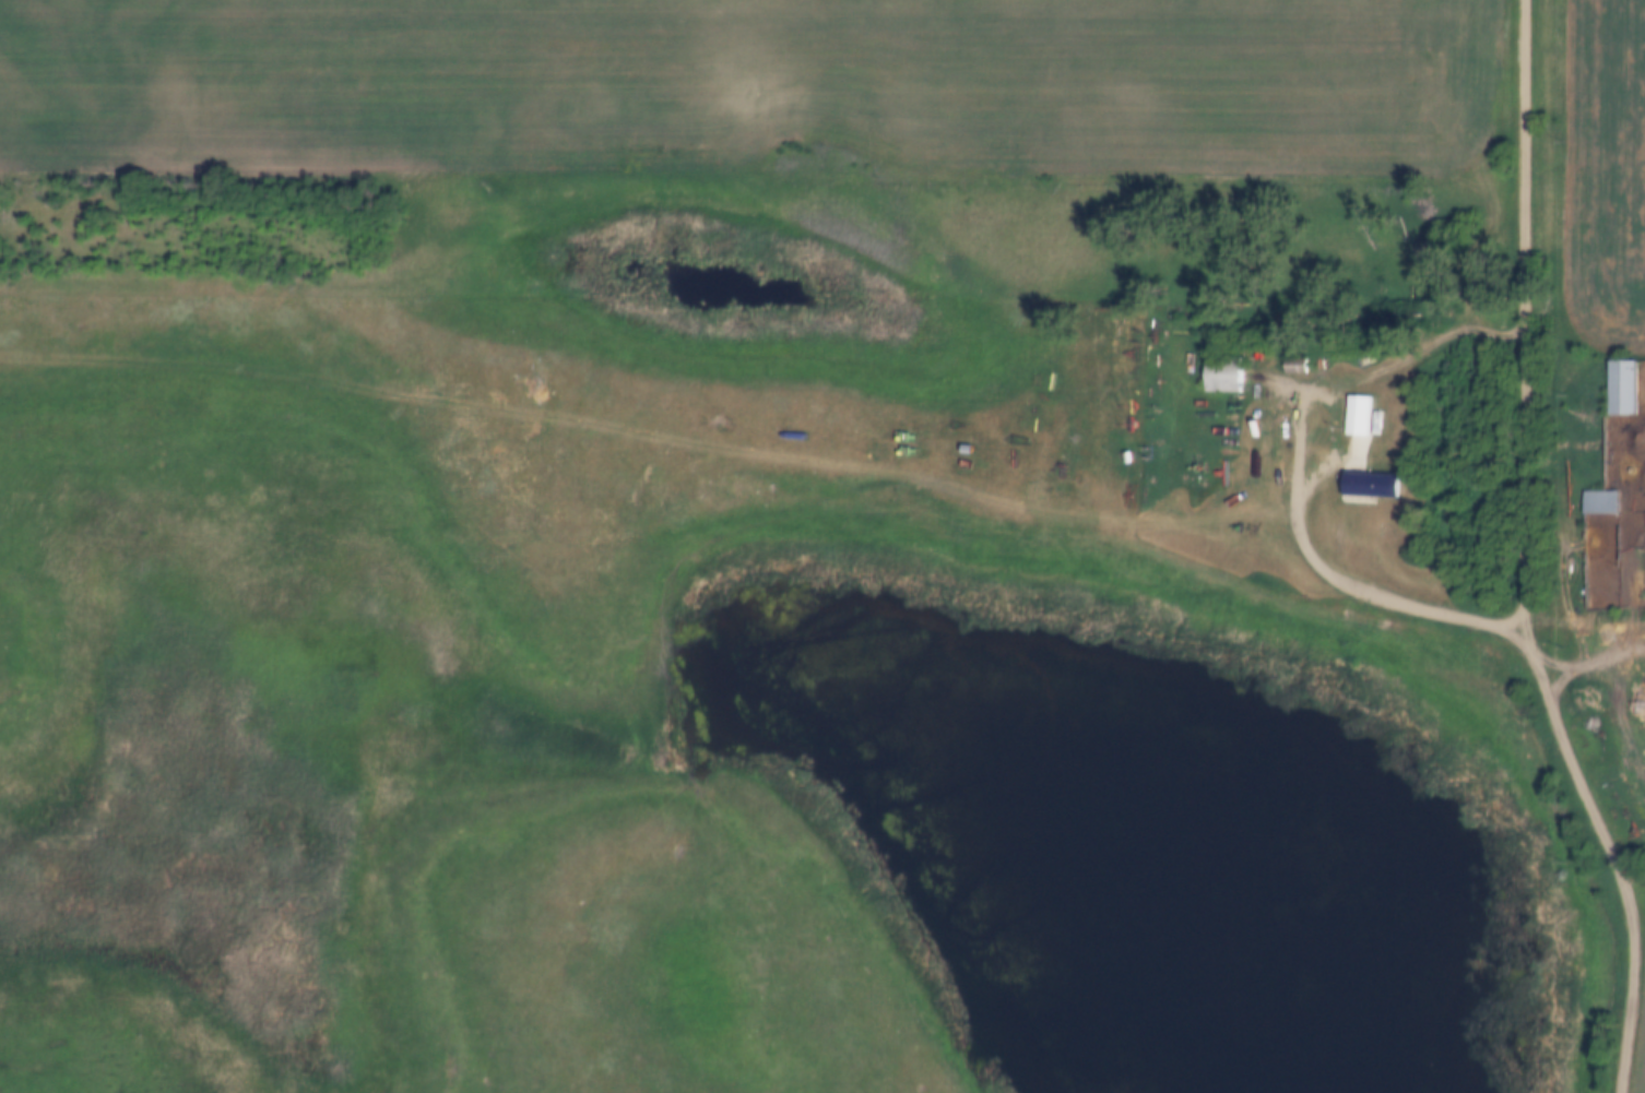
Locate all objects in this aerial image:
building: (1221, 376)
building: (1620, 388)
building: (1362, 424)
road: (1292, 470)
building: (1375, 486)
building: (1598, 501)
road: (1522, 558)
road: (1587, 664)

